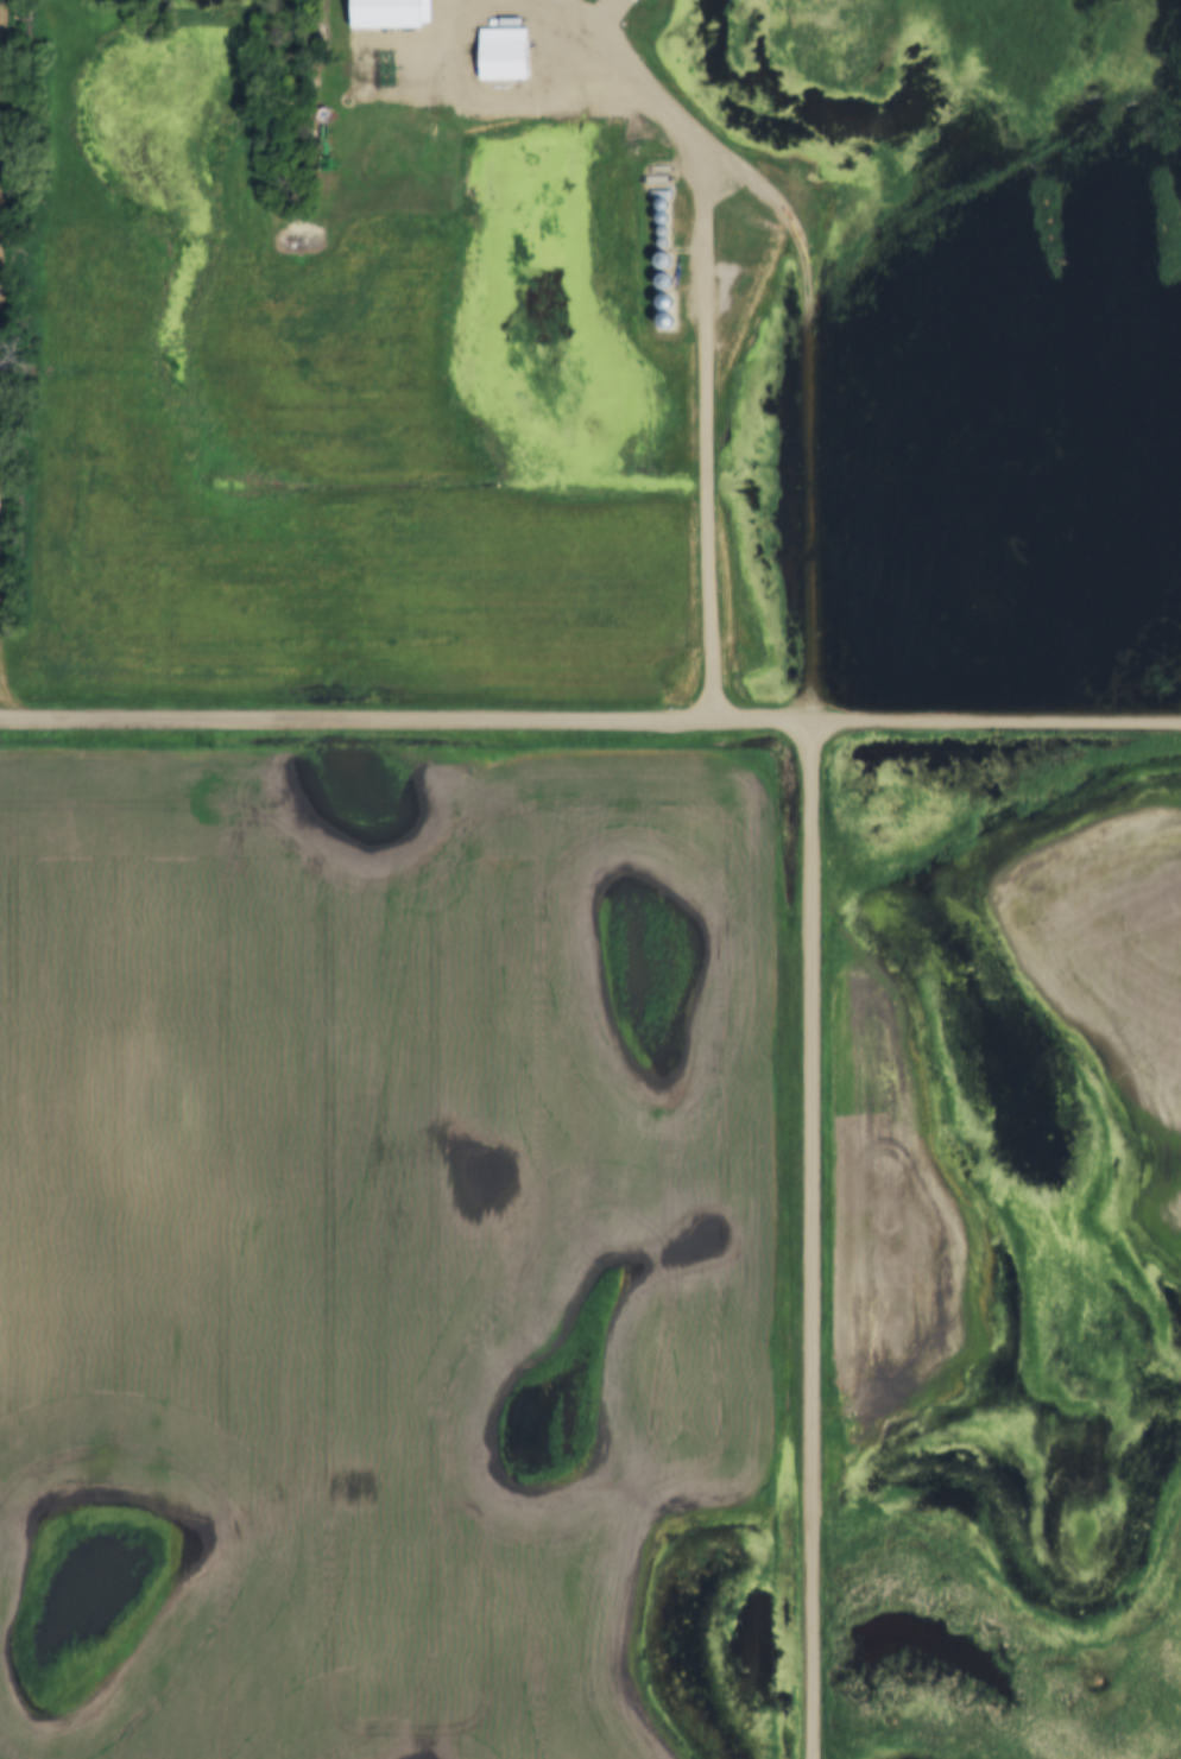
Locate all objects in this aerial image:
building: (636, 0)
building: (503, 53)
building: (358, 82)
building: (662, 204)
building: (664, 261)
building: (664, 281)
road: (809, 316)
building: (703, 327)
road: (707, 419)
road: (589, 722)
road: (809, 1240)

